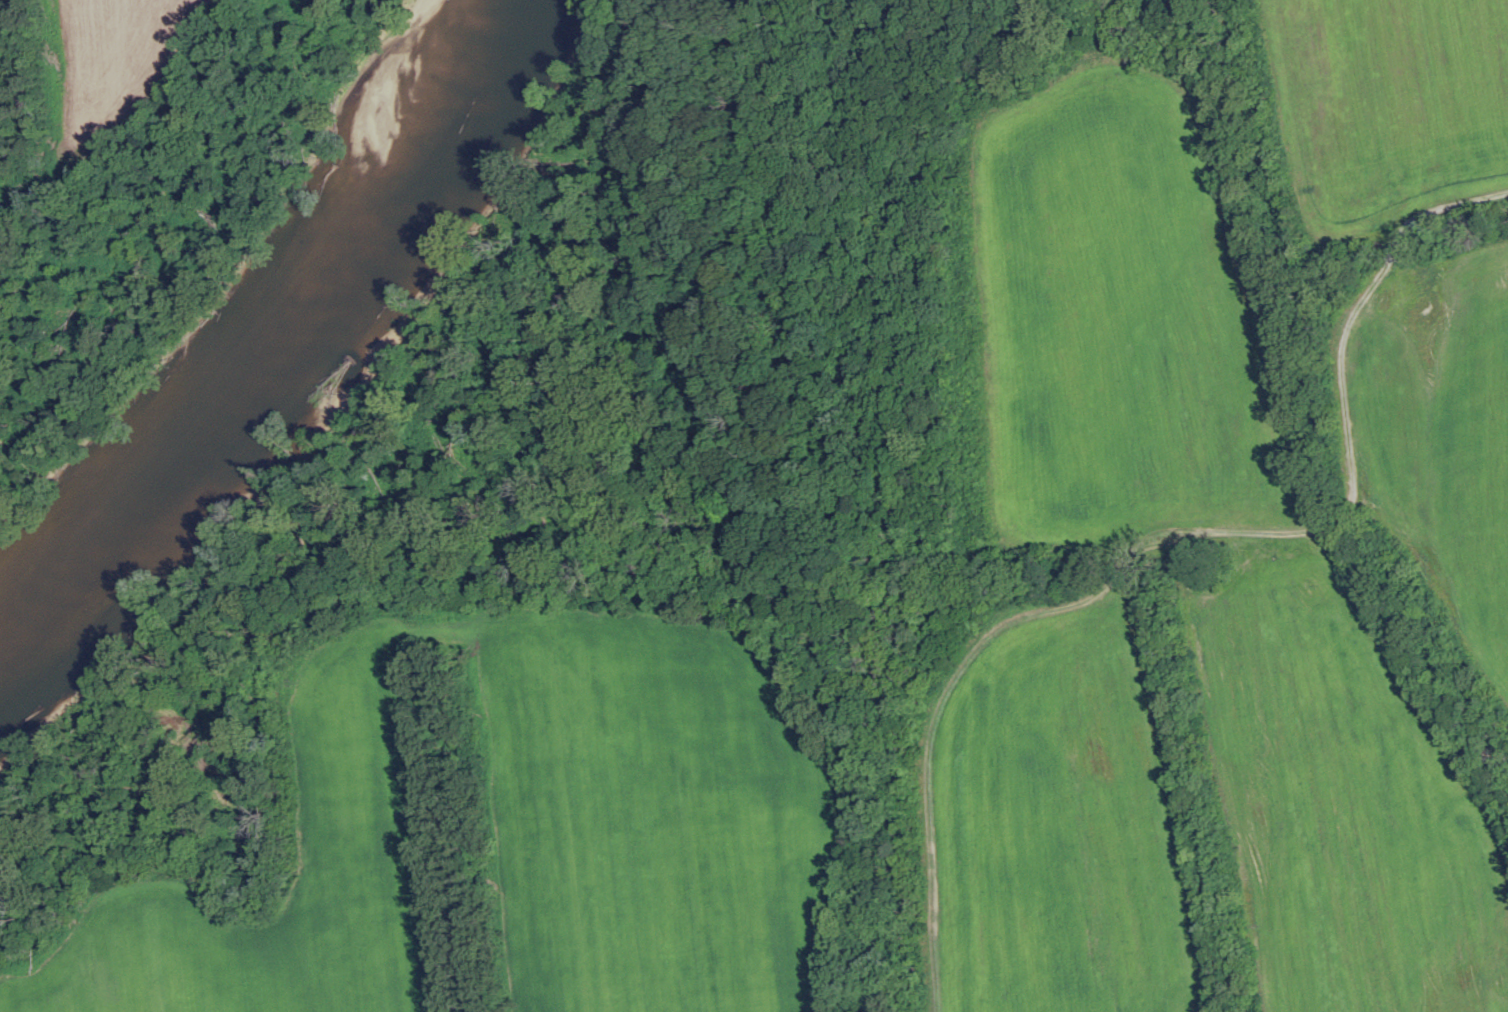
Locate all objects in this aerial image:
river: (288, 334)

